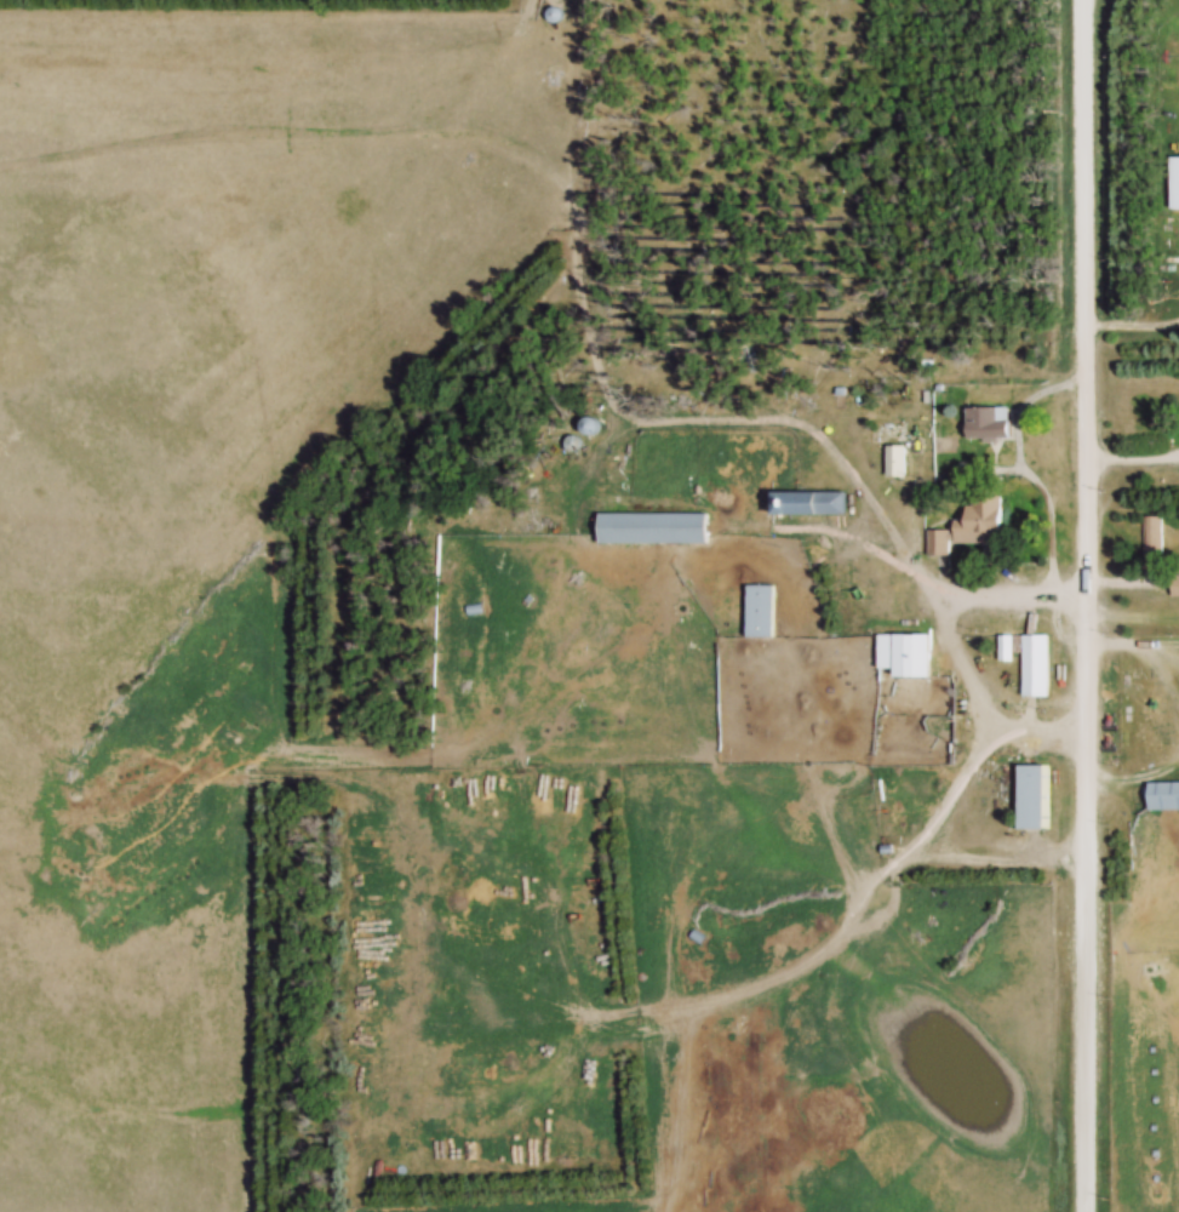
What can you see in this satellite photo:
building: (1174, 183)
building: (990, 423)
building: (586, 427)
building: (892, 461)
building: (806, 504)
building: (972, 527)
building: (654, 528)
building: (1151, 539)
building: (1174, 587)
road: (1087, 605)
building: (759, 612)
road: (1133, 644)
building: (905, 654)
building: (1036, 667)
road: (1036, 725)
road: (962, 774)
road: (1135, 779)
building: (1162, 796)
building: (1034, 797)

